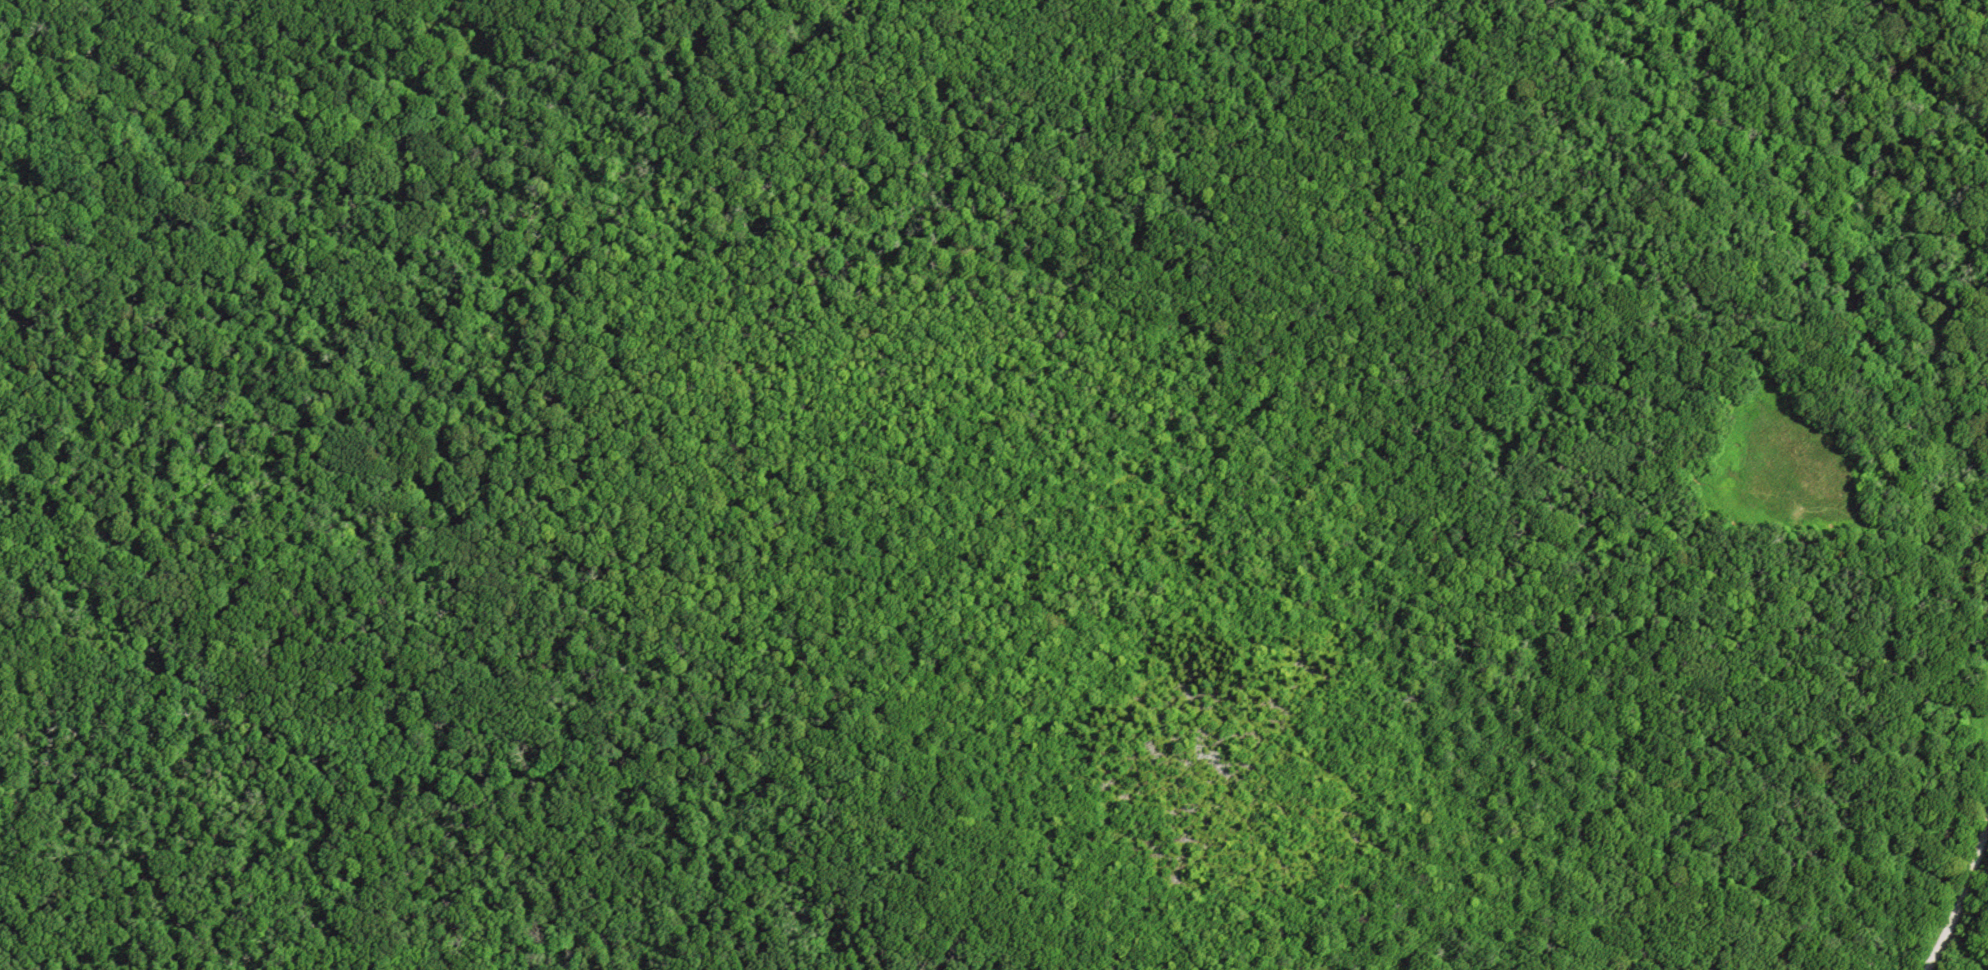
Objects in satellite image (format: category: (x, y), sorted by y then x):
road: (1826, 253)
road: (1850, 452)
parking lot: (1985, 682)
road: (1960, 895)

